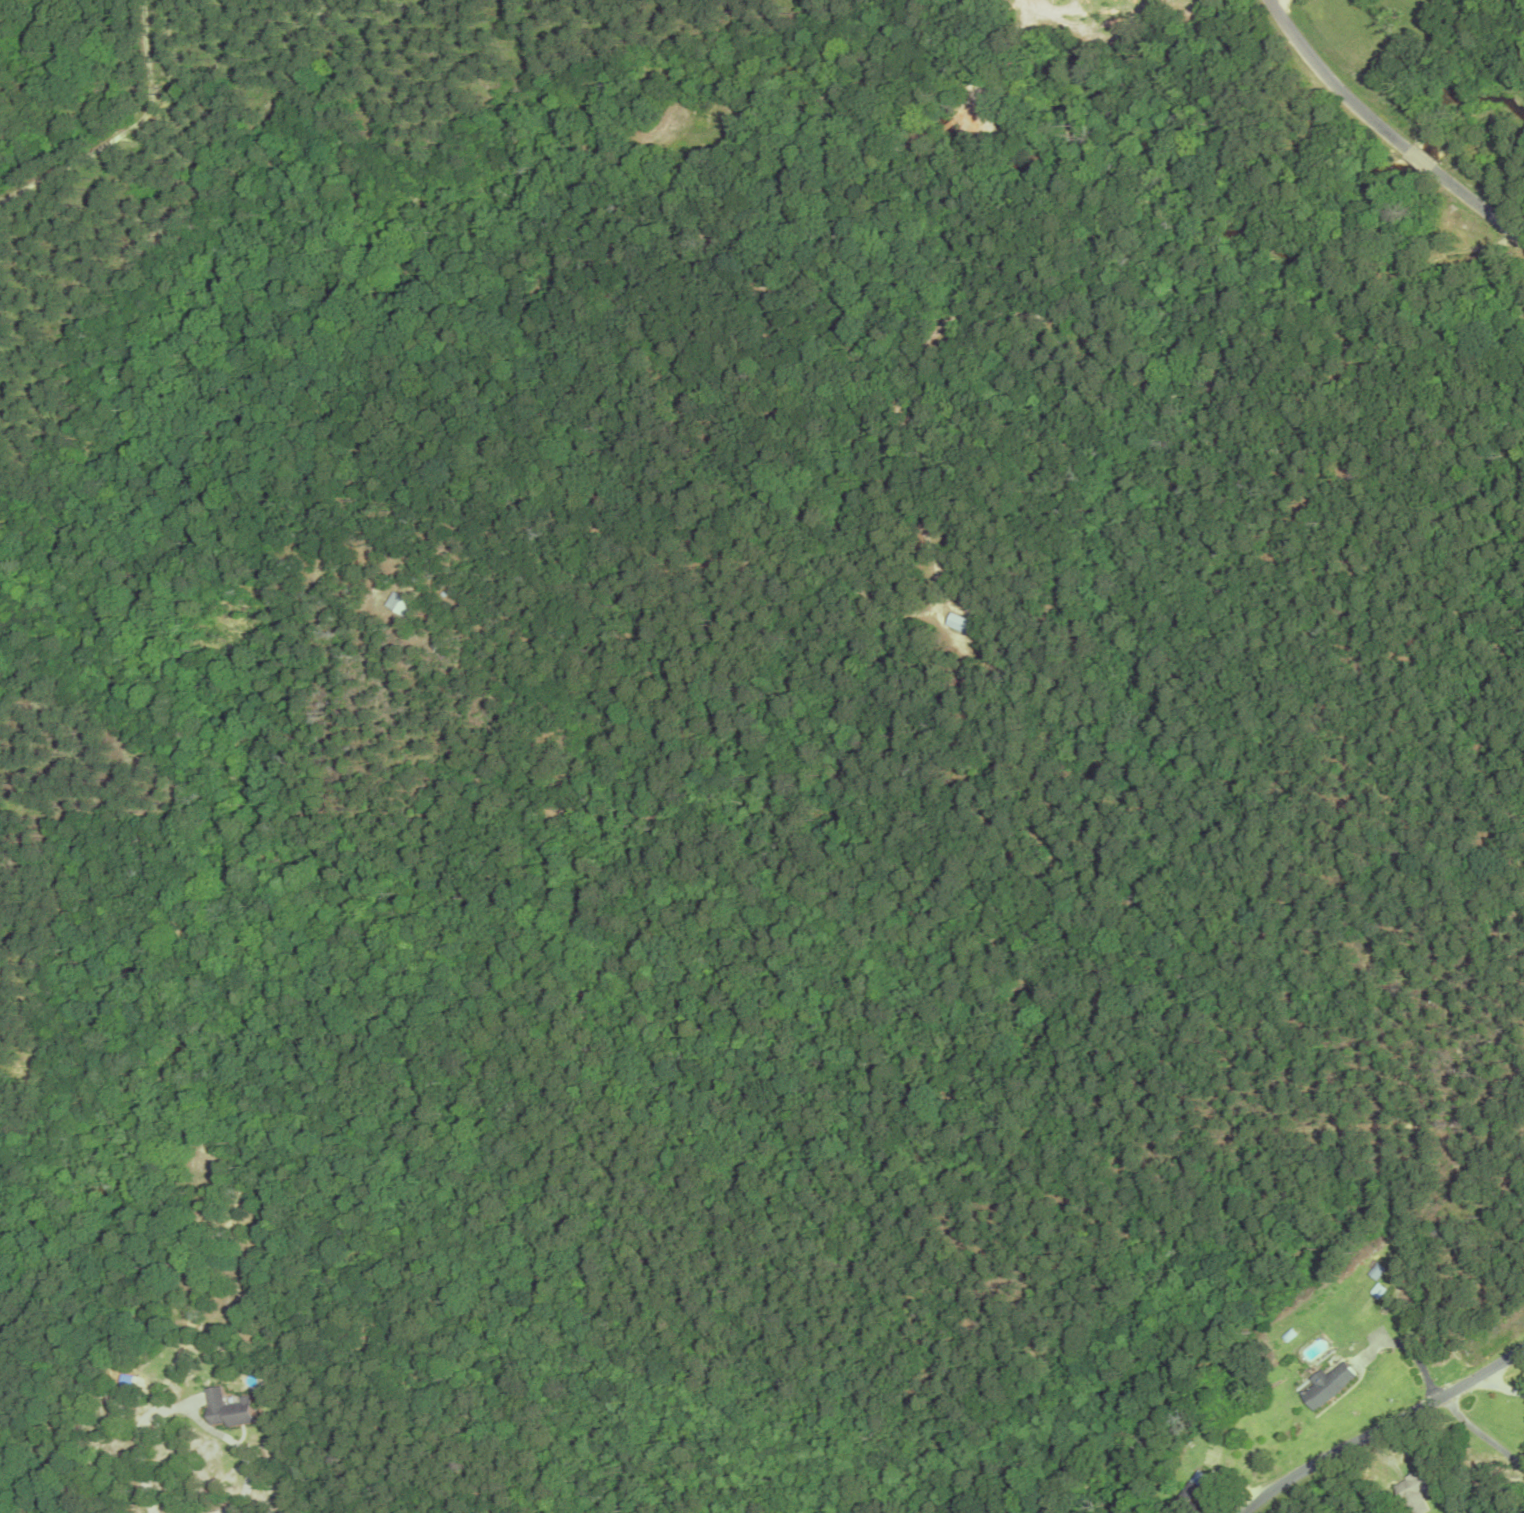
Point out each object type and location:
road: (1381, 132)
building: (401, 605)
building: (1327, 1387)
road: (200, 1405)
building: (226, 1412)
road: (1386, 1428)
road: (1478, 1436)
building: (1413, 1492)

